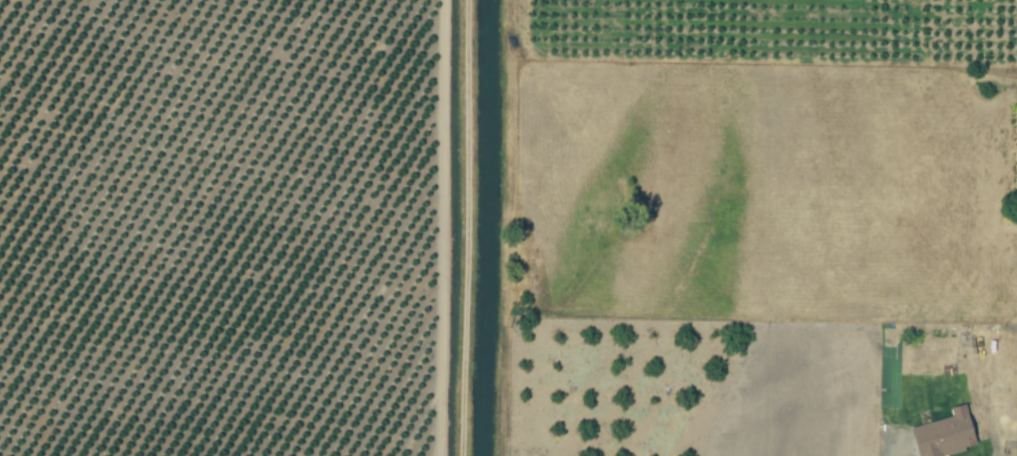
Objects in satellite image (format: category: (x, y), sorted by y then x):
road: (467, 228)
building: (945, 435)
road: (889, 453)

